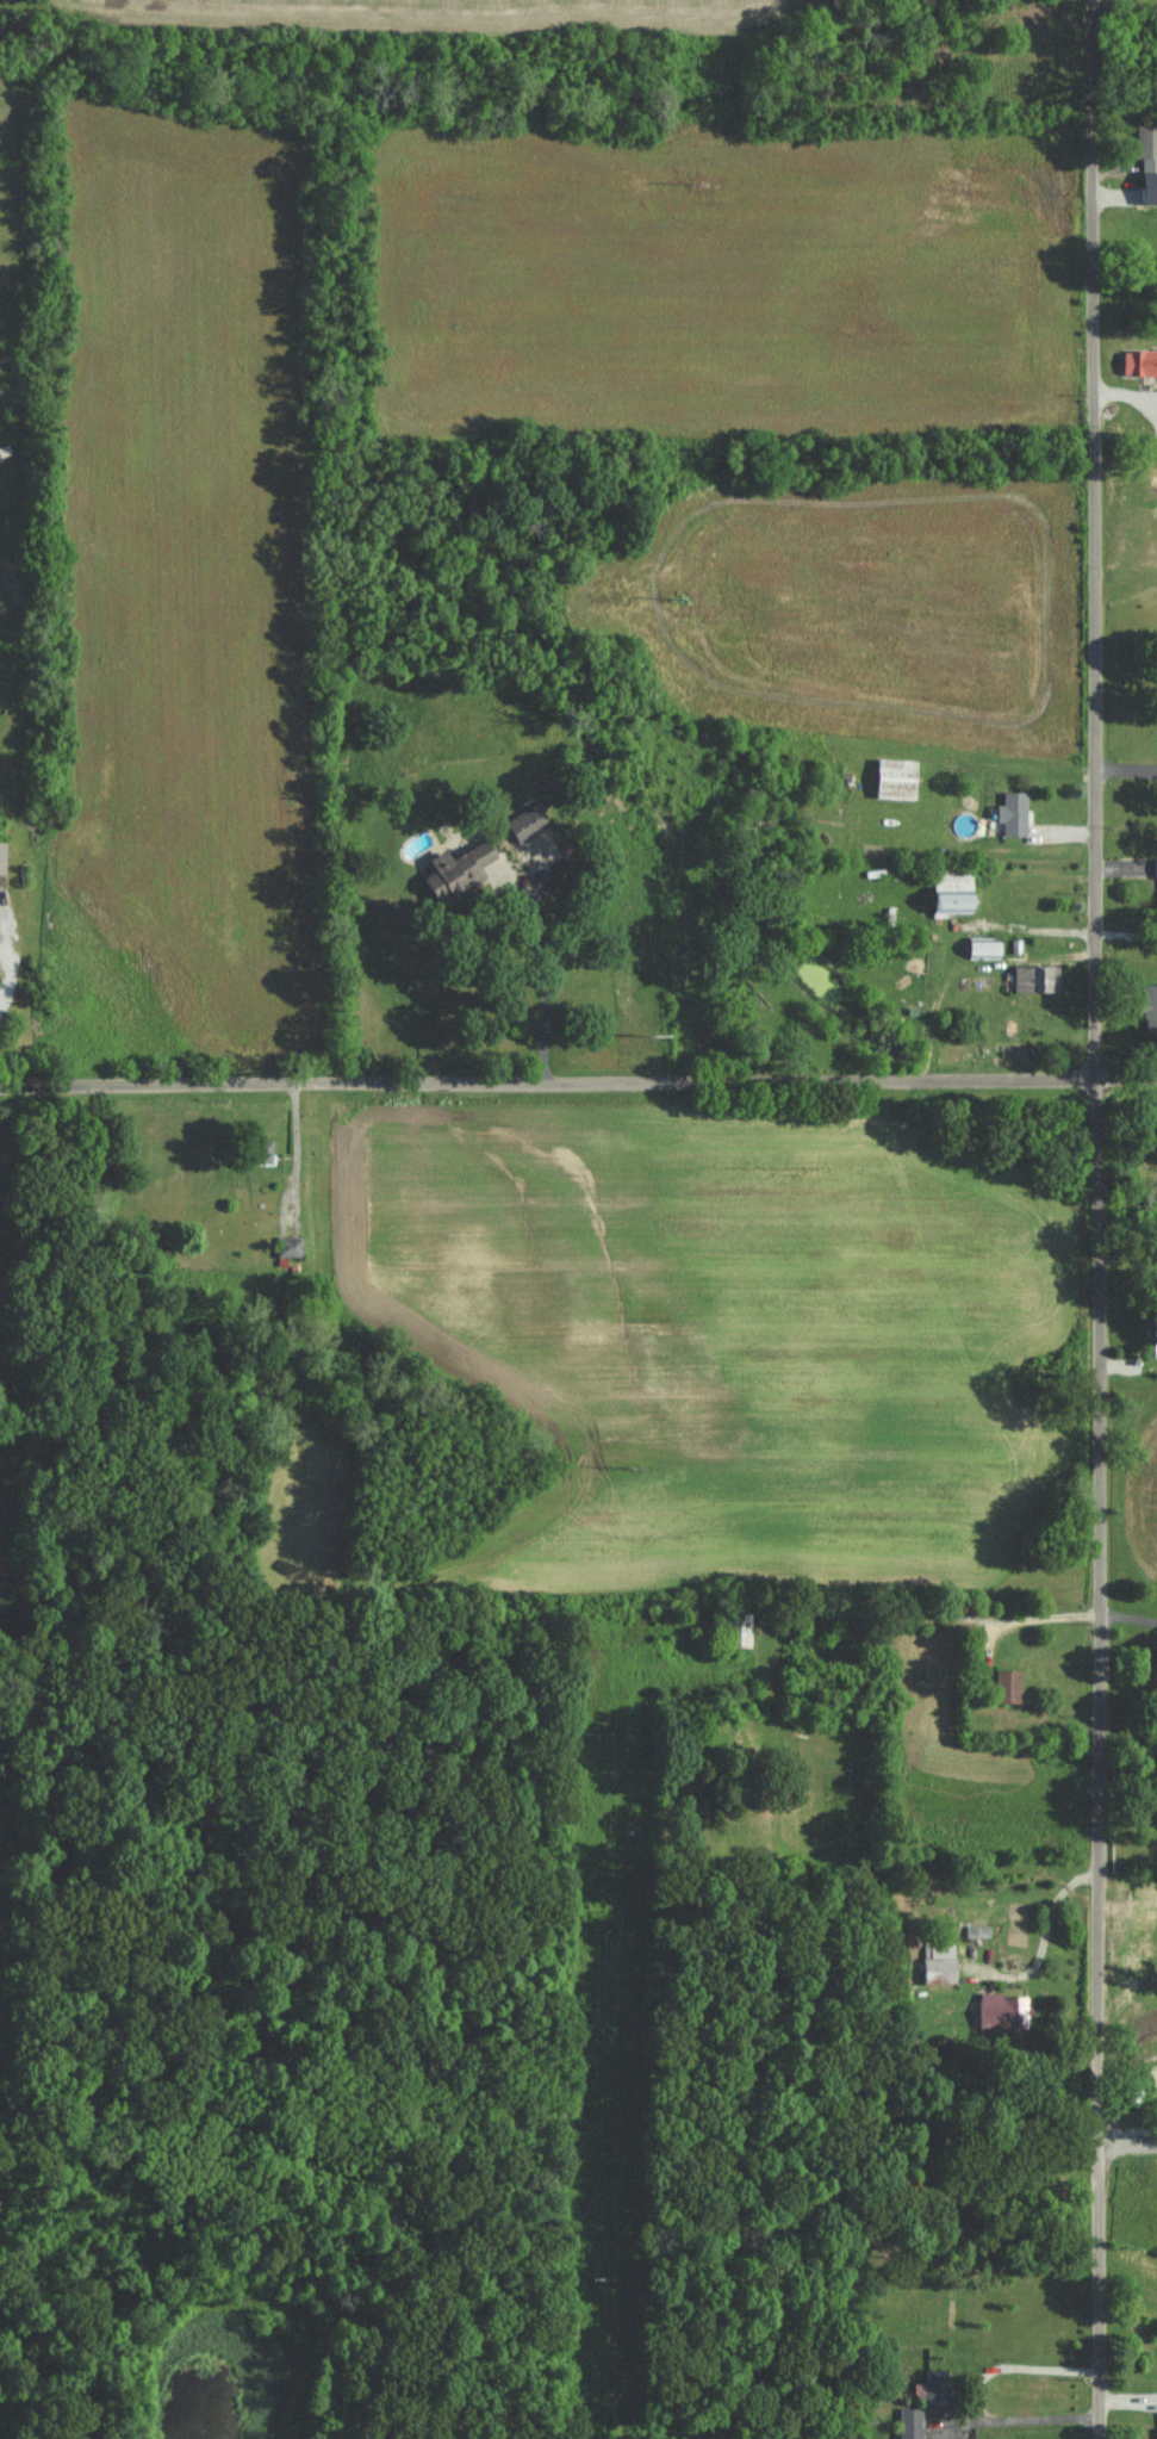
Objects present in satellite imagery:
building: (1149, 147)
building: (1143, 362)
road: (1127, 768)
building: (900, 776)
building: (1015, 812)
building: (530, 820)
building: (4, 856)
building: (462, 867)
building: (958, 890)
building: (988, 945)
building: (1035, 976)
building: (1151, 1006)
road: (578, 1080)
road: (296, 1140)
road: (1100, 1218)
building: (292, 1245)
building: (1012, 1684)
road: (1043, 1938)
building: (941, 1962)
building: (1000, 2009)
road: (1130, 2152)
building: (940, 2387)
building: (913, 2422)

